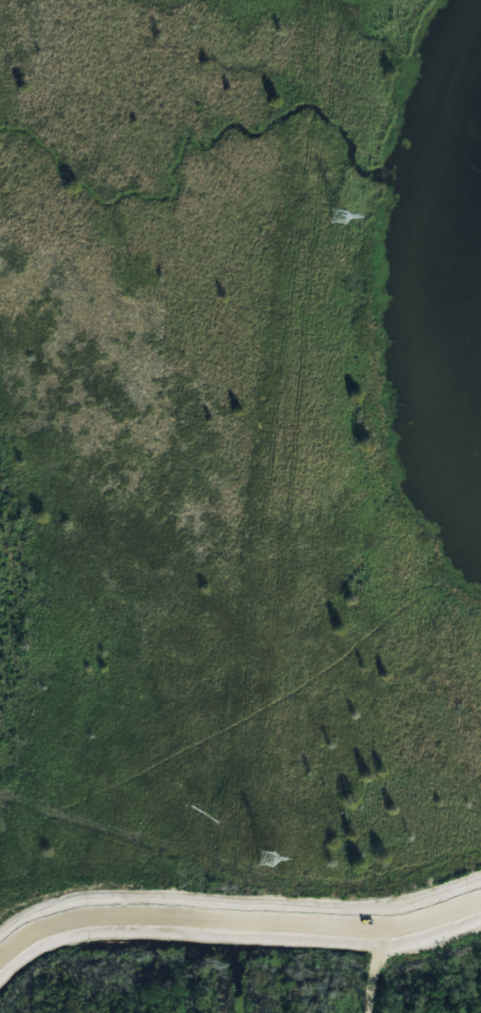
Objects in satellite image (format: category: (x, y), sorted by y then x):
power tower: (337, 217)
power tower: (268, 859)

